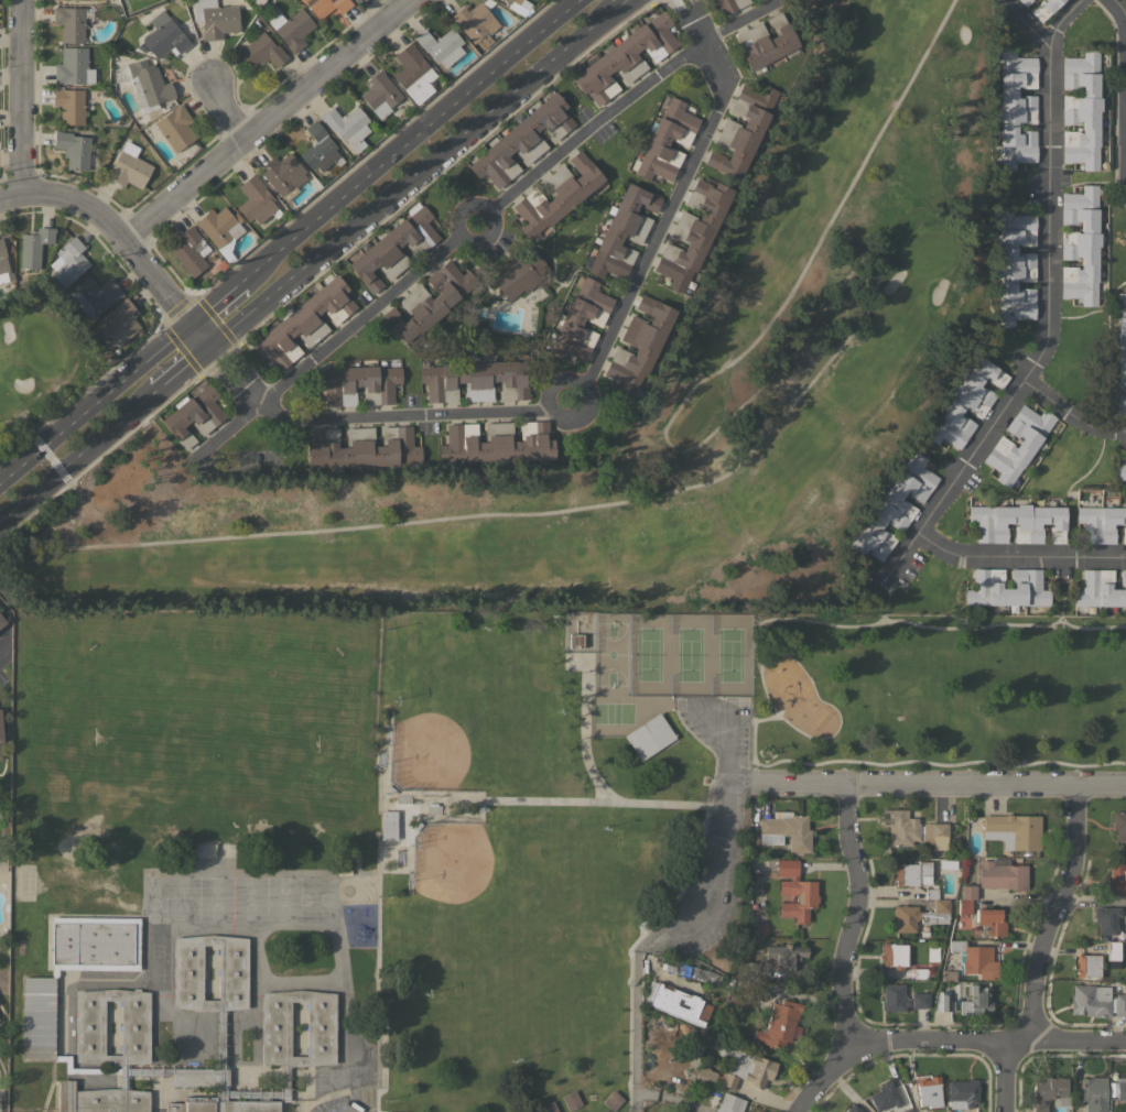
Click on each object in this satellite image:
building: (62, 0)
building: (93, 0)
building: (355, 0)
building: (704, 0)
building: (706, 0)
building: (1024, 1)
building: (729, 4)
building: (326, 6)
building: (516, 7)
road: (617, 8)
building: (1043, 8)
road: (1125, 17)
building: (214, 18)
building: (69, 23)
building: (475, 23)
road: (1025, 24)
building: (292, 29)
building: (162, 36)
building: (766, 42)
road: (1124, 43)
building: (441, 46)
building: (261, 51)
building: (625, 57)
building: (74, 67)
building: (412, 73)
building: (151, 89)
building: (379, 94)
road: (19, 96)
road: (620, 101)
building: (68, 105)
road: (225, 109)
building: (1015, 109)
building: (1081, 109)
road: (264, 119)
building: (347, 126)
building: (174, 128)
building: (741, 130)
road: (412, 134)
building: (665, 140)
building: (522, 141)
building: (73, 149)
building: (320, 149)
building: (128, 167)
building: (282, 175)
park: (857, 178)
road: (408, 181)
building: (555, 195)
building: (255, 199)
road: (475, 204)
road: (111, 229)
building: (220, 230)
building: (622, 232)
building: (692, 233)
building: (1080, 244)
building: (34, 247)
building: (393, 248)
building: (191, 251)
building: (69, 261)
building: (3, 265)
building: (1014, 265)
building: (519, 274)
building: (95, 296)
road: (221, 299)
building: (430, 301)
road: (1044, 307)
building: (578, 320)
building: (118, 321)
building: (304, 324)
road: (340, 335)
road: (201, 337)
building: (638, 345)
road: (606, 348)
building: (109, 357)
building: (1120, 357)
road: (241, 368)
park: (35, 371)
road: (181, 372)
road: (813, 377)
building: (475, 380)
road: (223, 383)
building: (357, 384)
road: (95, 400)
building: (964, 405)
building: (193, 415)
road: (1070, 415)
building: (497, 443)
building: (1018, 443)
building: (361, 447)
road: (75, 461)
building: (1122, 467)
building: (892, 508)
building: (1017, 523)
building: (1101, 523)
road: (1018, 554)
building: (1006, 588)
building: (1101, 590)
road: (885, 599)
road: (884, 620)
building: (1, 621)
building: (575, 641)
park: (610, 654)
park: (686, 655)
park: (463, 715)
building: (0, 734)
building: (649, 737)
park: (204, 741)
building: (0, 753)
road: (916, 762)
park: (519, 776)
road: (925, 783)
building: (388, 825)
building: (1118, 825)
building: (900, 827)
building: (1016, 829)
building: (934, 830)
building: (784, 831)
building: (911, 873)
building: (1002, 874)
building: (1115, 879)
building: (794, 891)
building: (966, 898)
road: (696, 905)
road: (1051, 912)
building: (921, 913)
building: (1106, 918)
building: (990, 920)
park: (511, 931)
building: (1113, 950)
road: (842, 952)
building: (932, 953)
building: (784, 955)
building: (894, 955)
building: (974, 959)
building: (1087, 966)
building: (749, 969)
building: (695, 973)
building: (743, 988)
building: (902, 999)
building: (976, 1000)
building: (942, 1001)
building: (1096, 1001)
building: (675, 1002)
building: (779, 1025)
building: (37, 1033)
road: (983, 1040)
building: (747, 1065)
building: (704, 1075)
road: (1003, 1076)
building: (728, 1079)
building: (1120, 1089)
building: (929, 1091)
building: (963, 1091)
building: (1047, 1092)
building: (1094, 1093)
building: (65, 1095)
building: (885, 1097)
building: (571, 1100)
building: (611, 1101)
building: (729, 1103)
building: (548, 1106)
building: (853, 1109)
building: (906, 1110)

